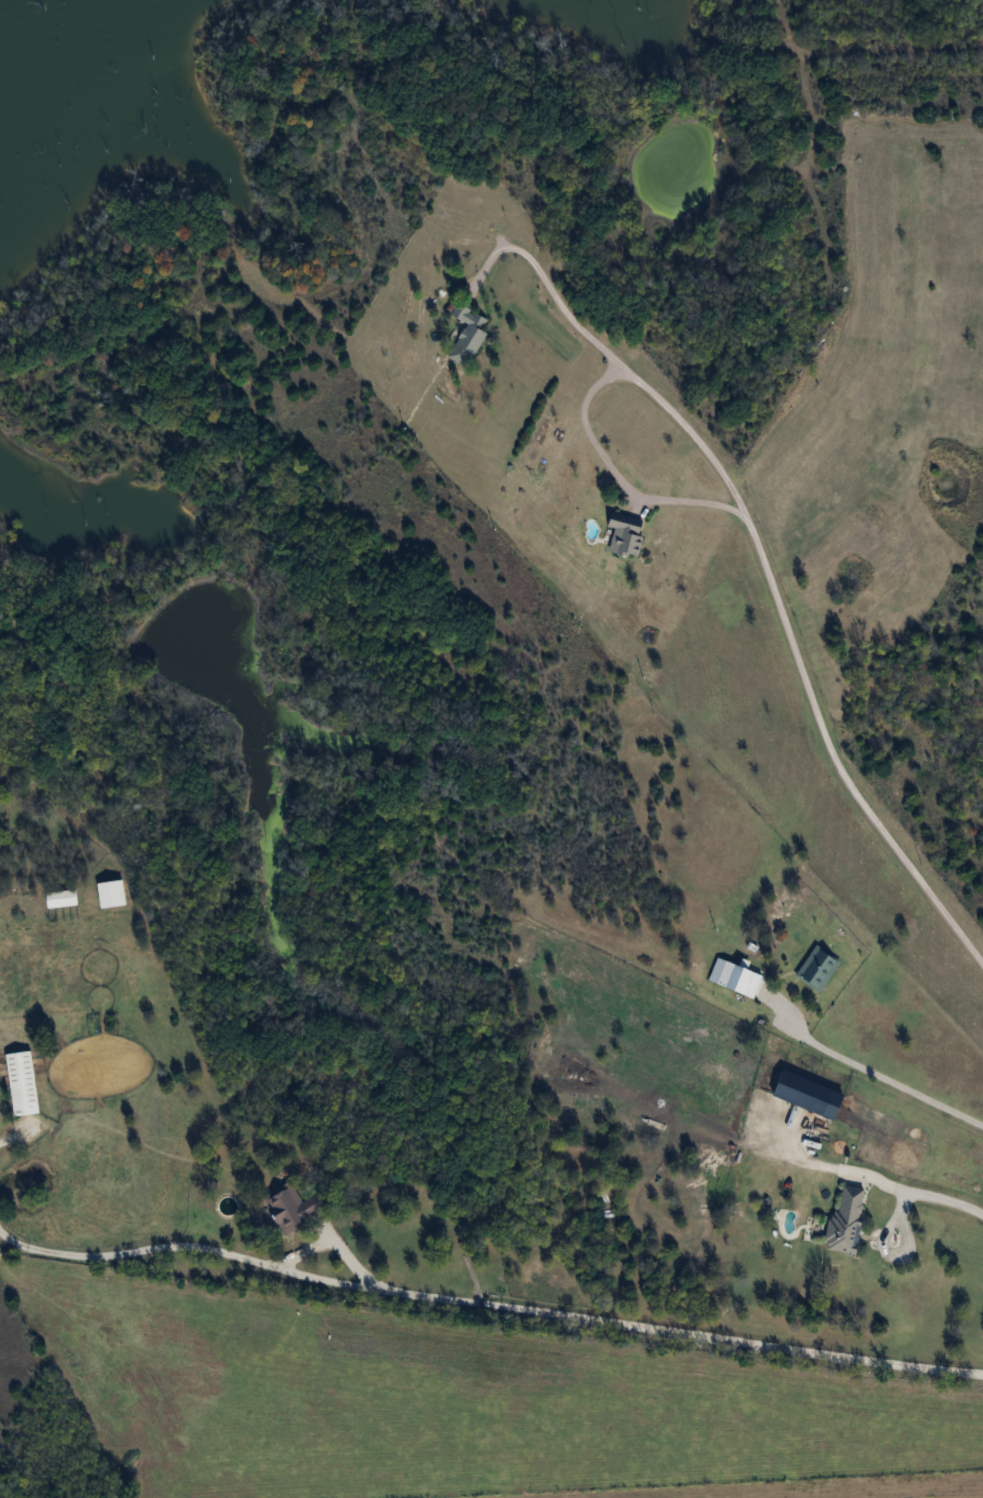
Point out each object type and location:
building: (471, 328)
road: (620, 475)
building: (628, 534)
road: (760, 556)
building: (113, 894)
building: (62, 899)
building: (819, 967)
building: (728, 973)
building: (753, 983)
road: (866, 1071)
building: (23, 1082)
building: (811, 1094)
road: (10, 1131)
road: (917, 1191)
building: (292, 1207)
building: (848, 1221)
road: (330, 1235)
road: (489, 1305)

